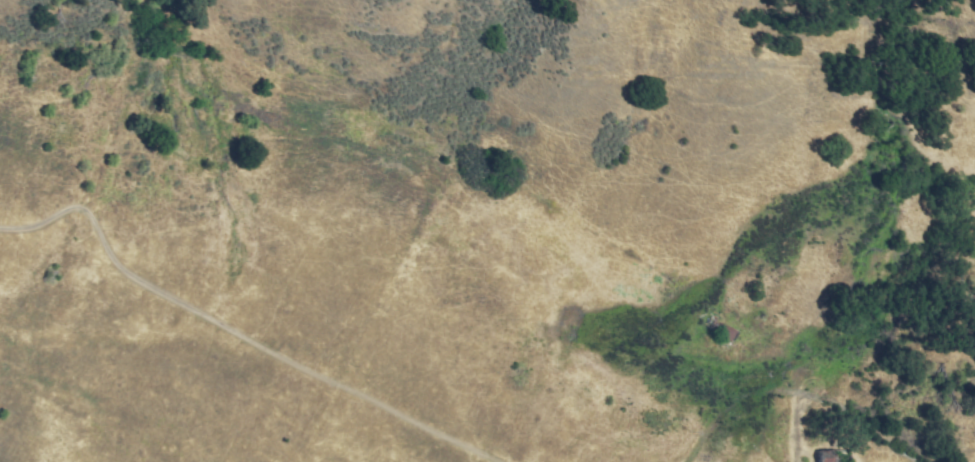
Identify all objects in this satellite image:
road: (117, 143)
road: (229, 326)
road: (773, 389)
road: (299, 417)
building: (834, 452)

